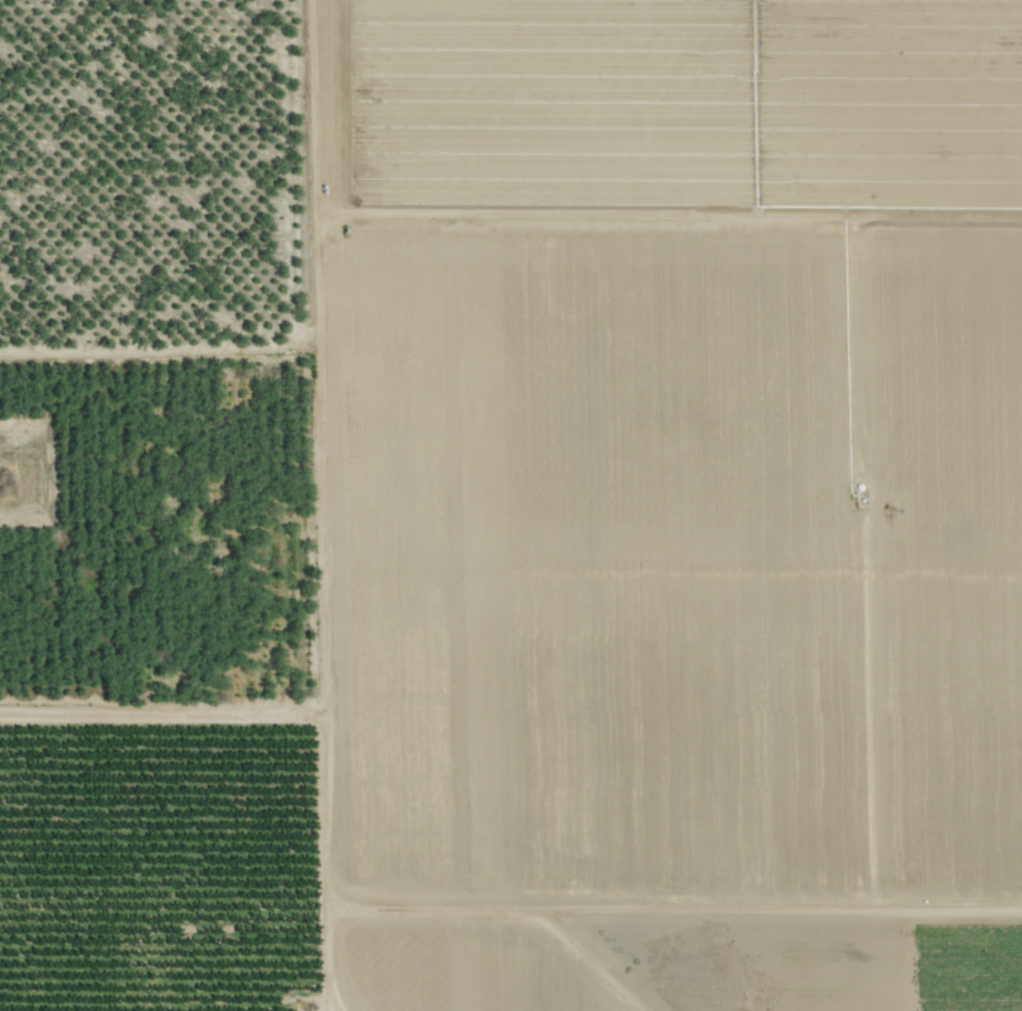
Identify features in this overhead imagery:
road: (325, 505)
road: (164, 712)
road: (363, 893)
road: (670, 908)

